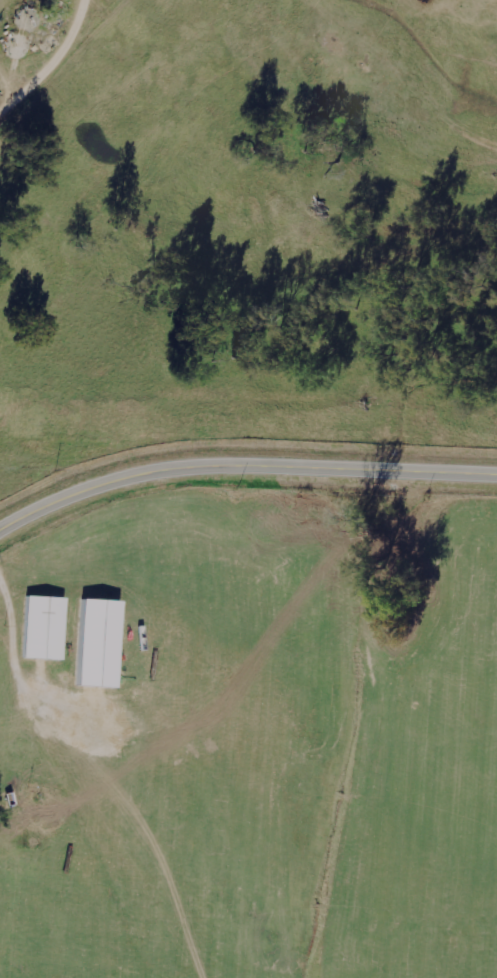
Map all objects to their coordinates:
road: (48, 61)
road: (242, 465)
building: (43, 628)
building: (96, 644)

